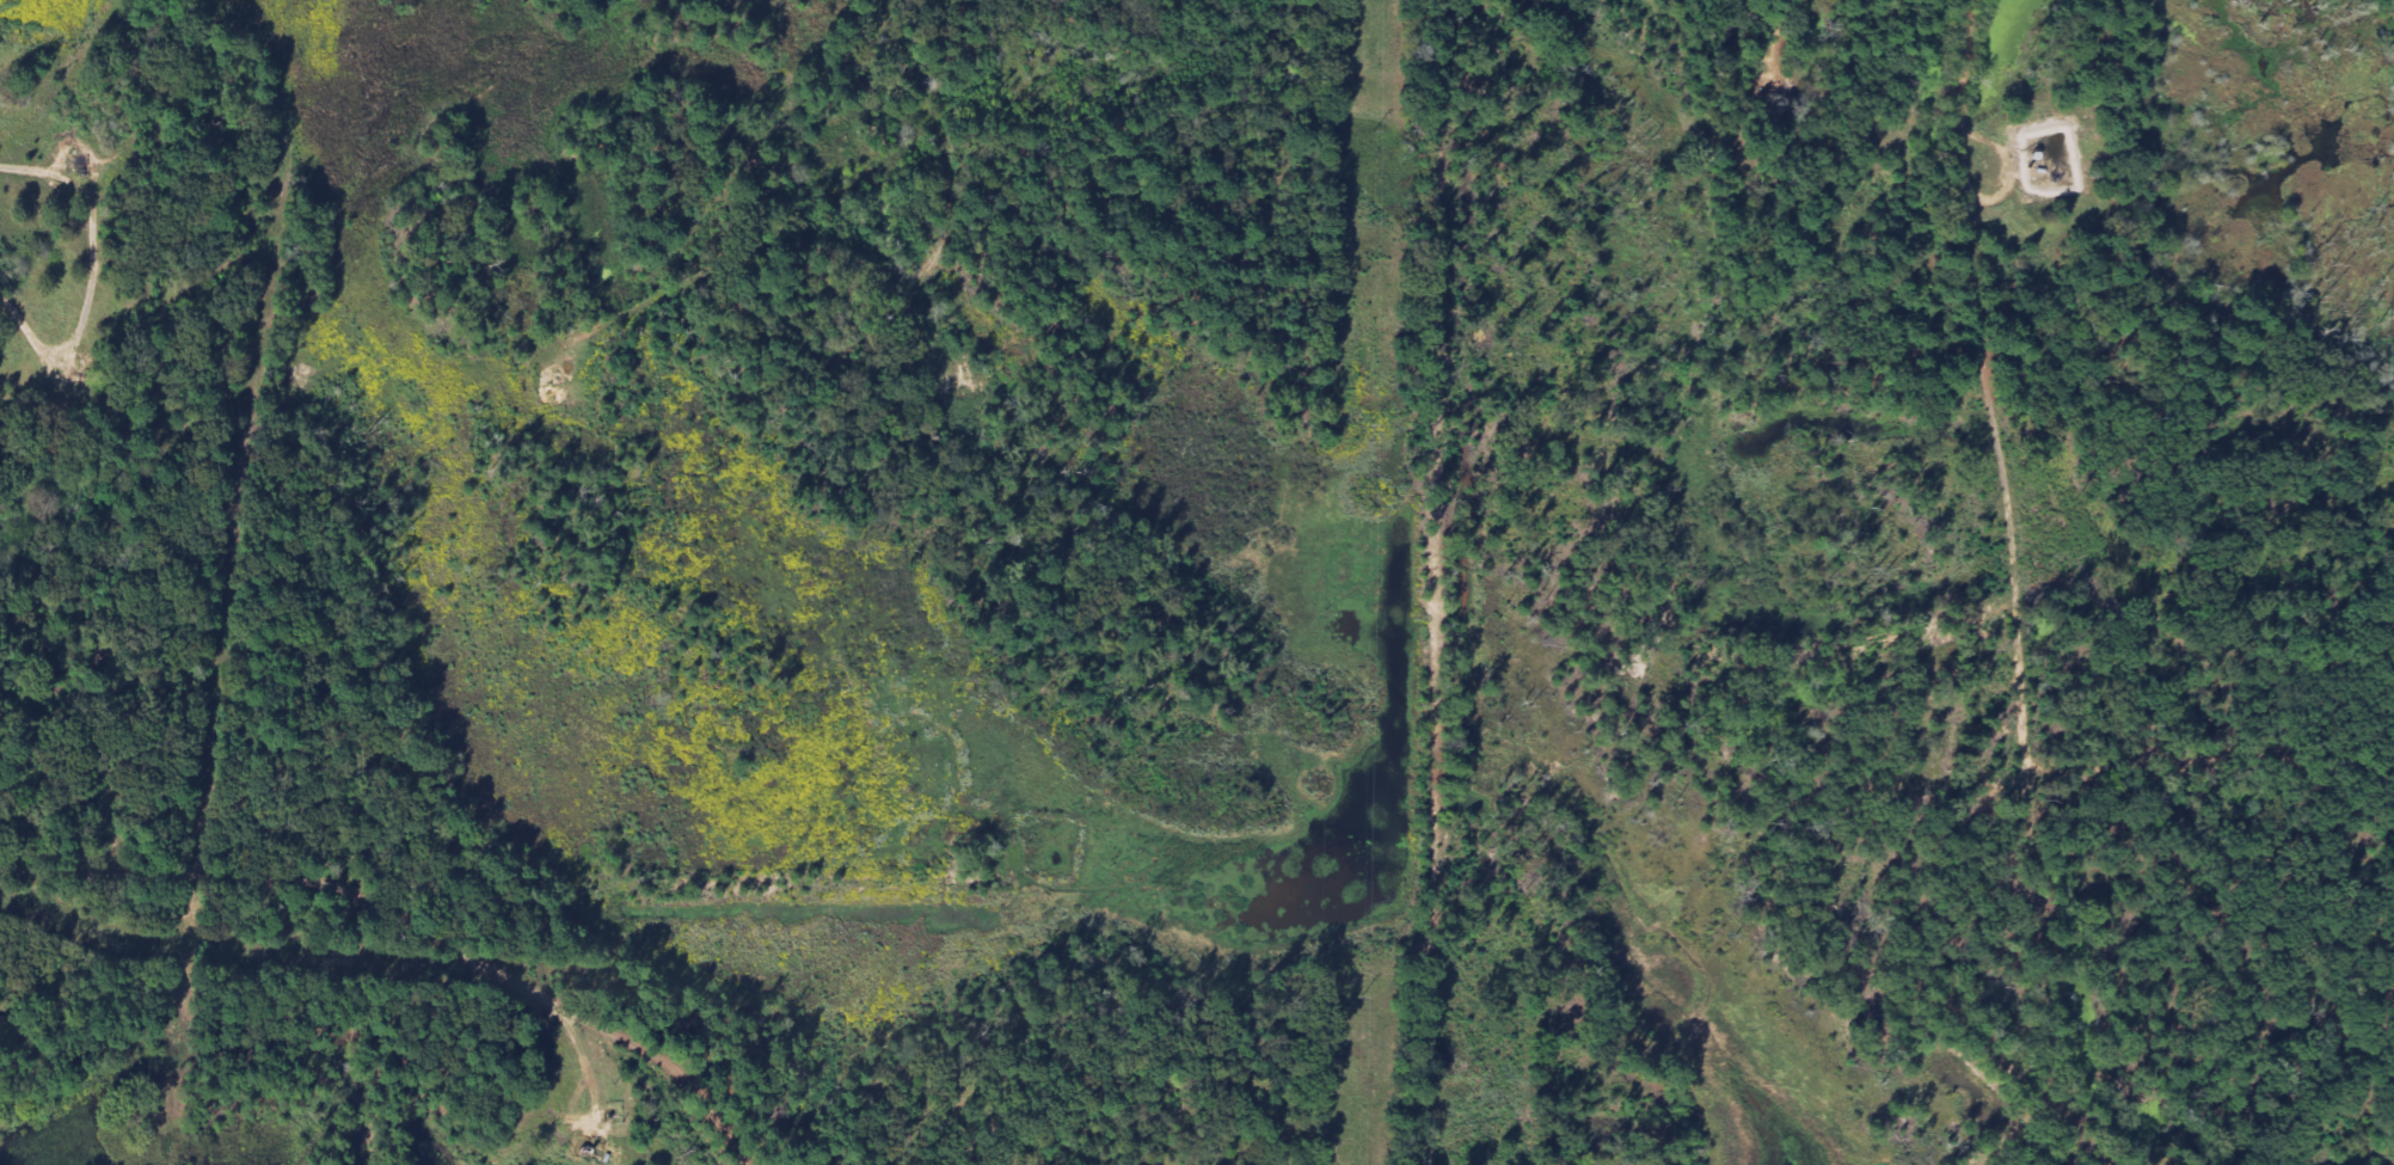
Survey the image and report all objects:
road: (410, 922)

